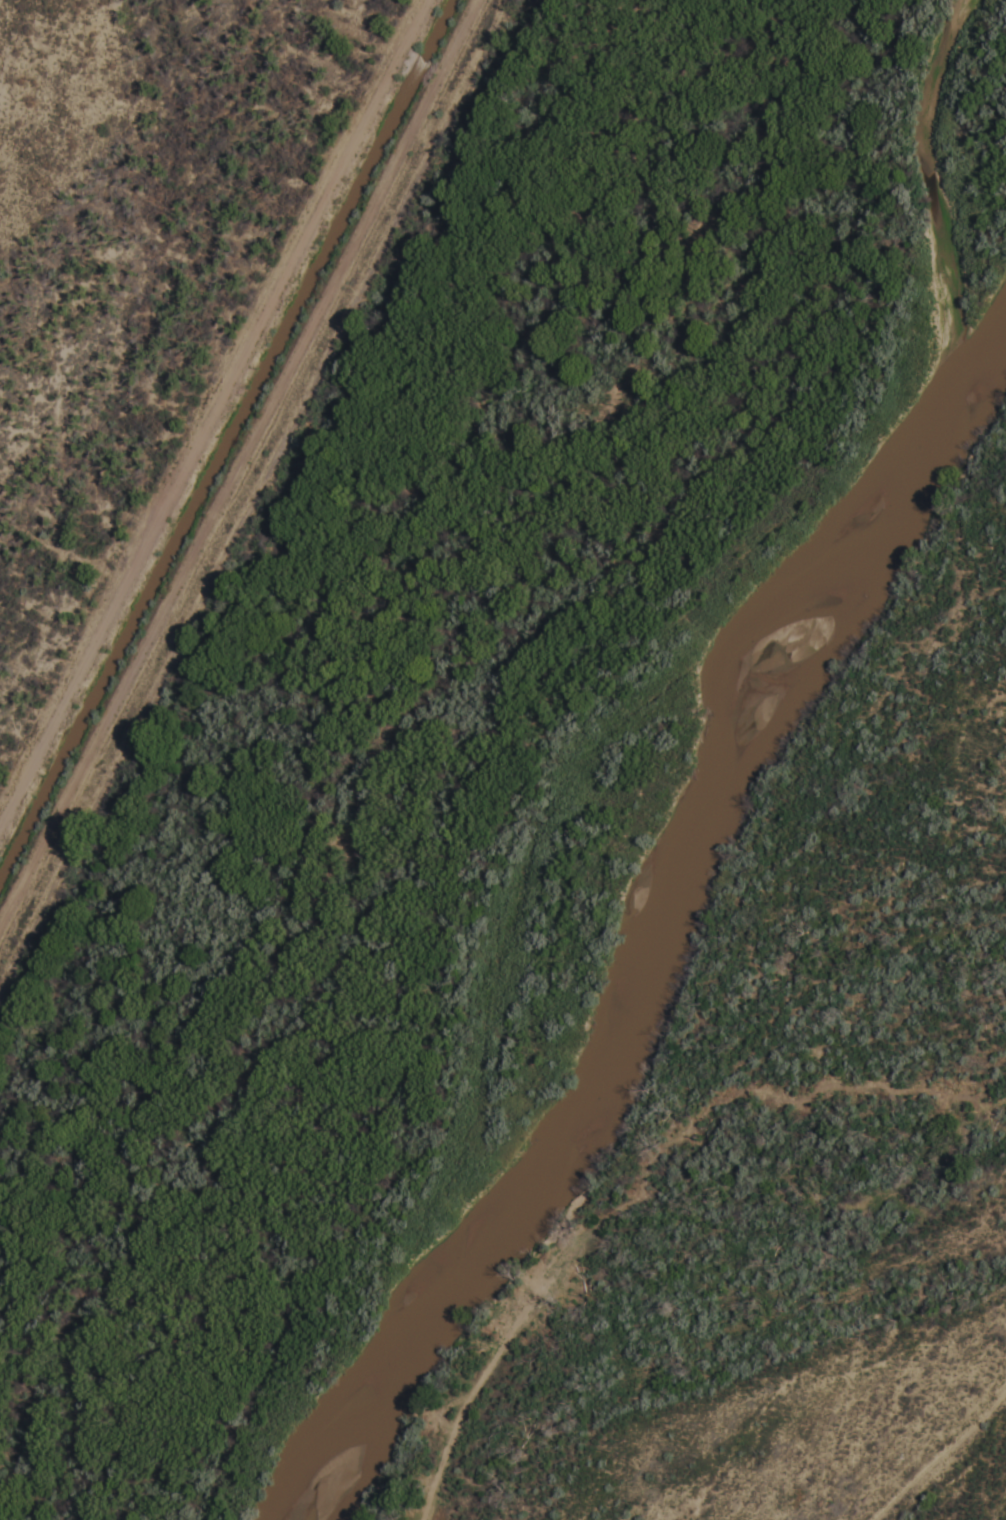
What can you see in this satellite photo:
river: (939, 194)
river: (674, 934)

